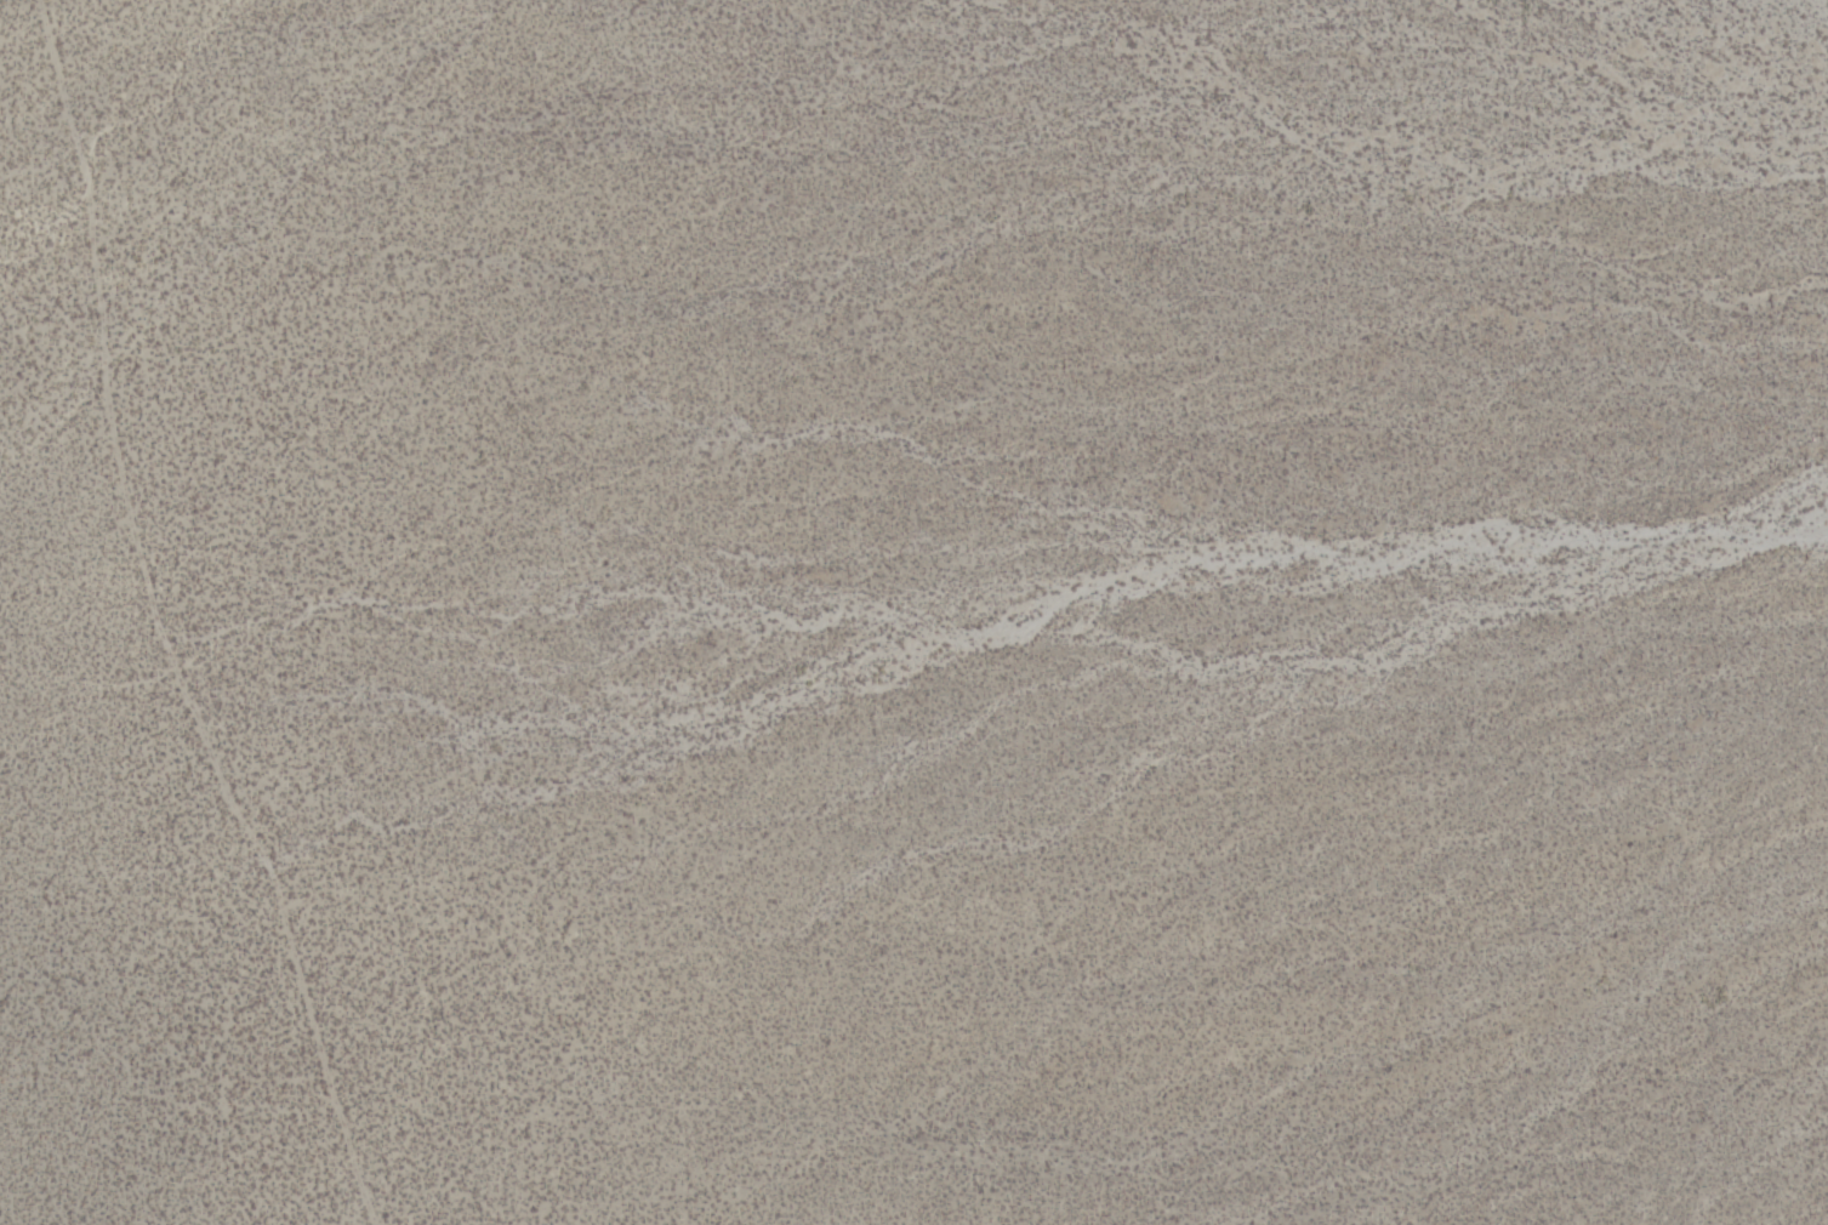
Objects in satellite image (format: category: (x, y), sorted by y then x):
road: (163, 626)

